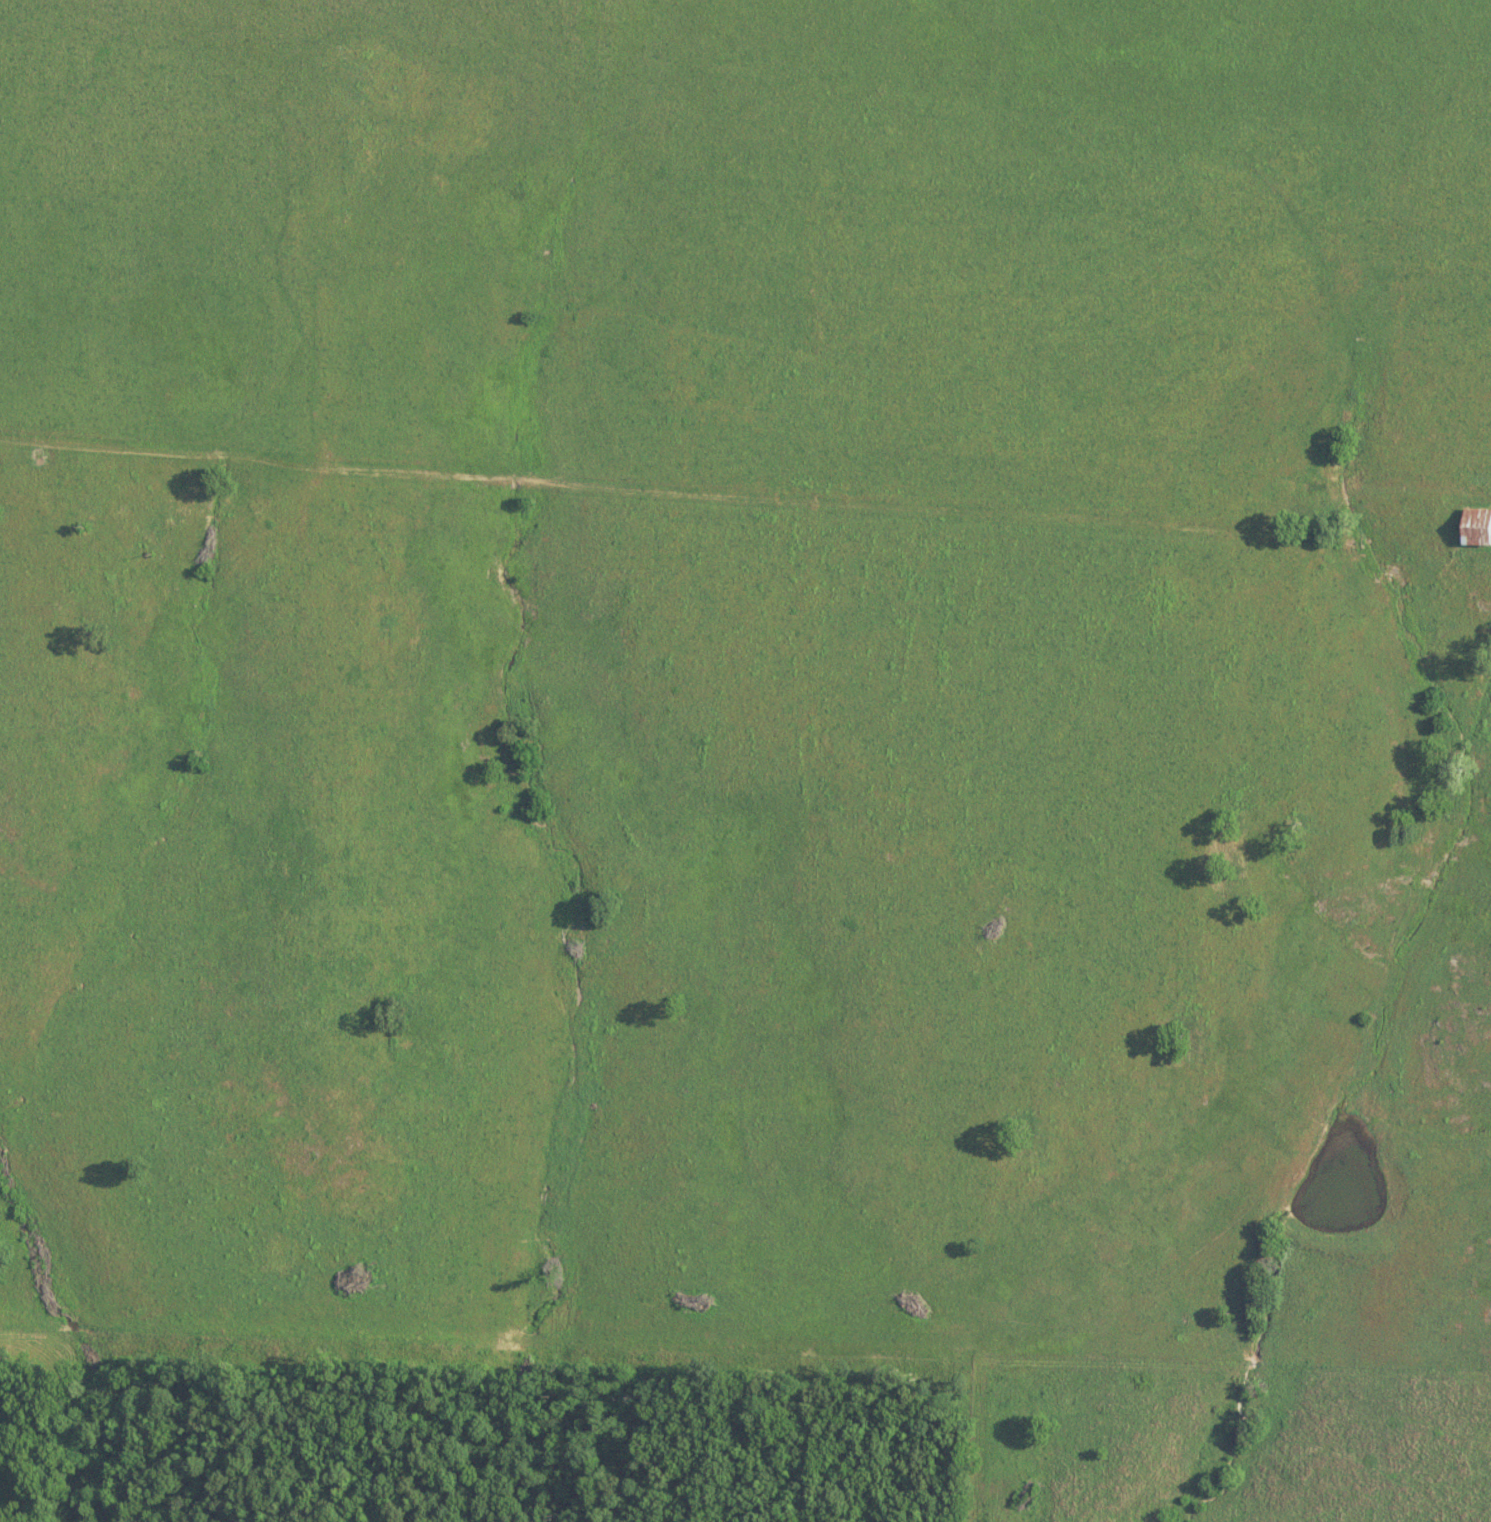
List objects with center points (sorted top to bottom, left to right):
building: (1477, 526)

